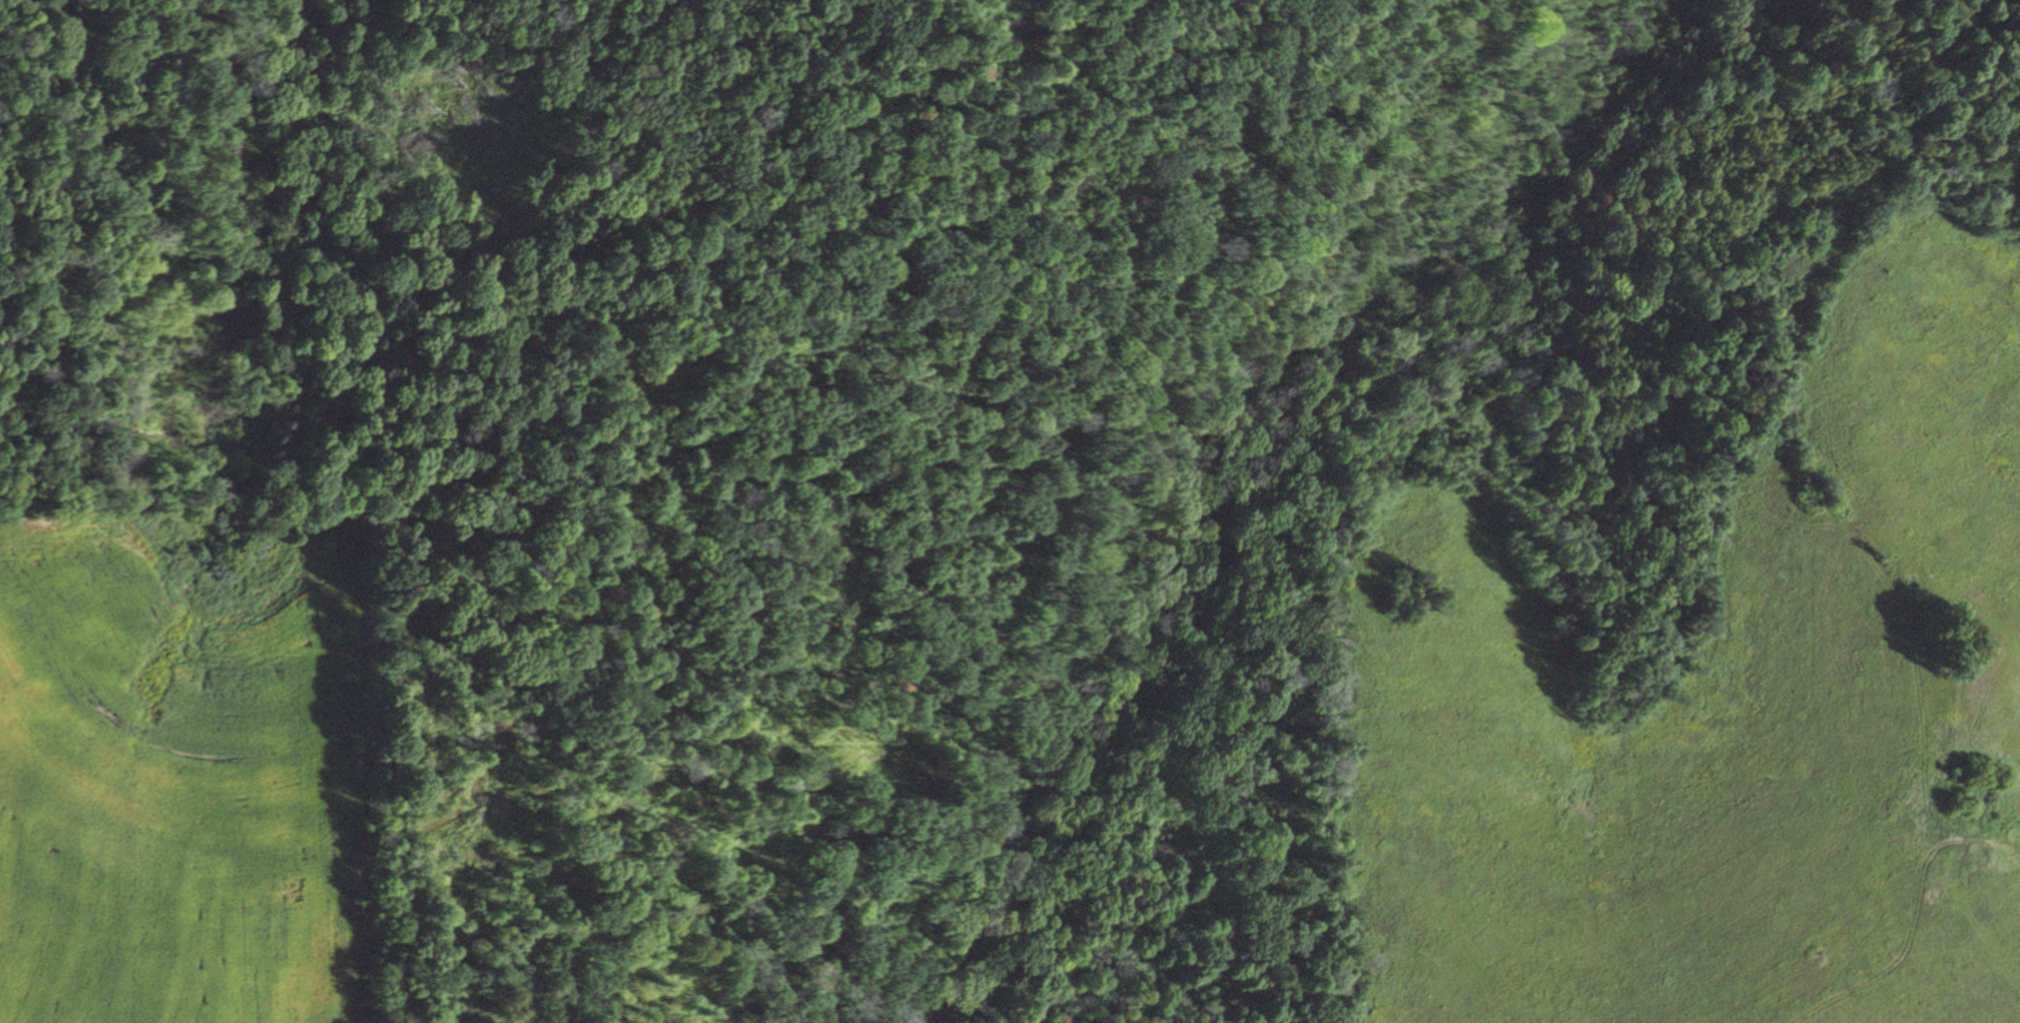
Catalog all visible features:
road: (2000, 884)

